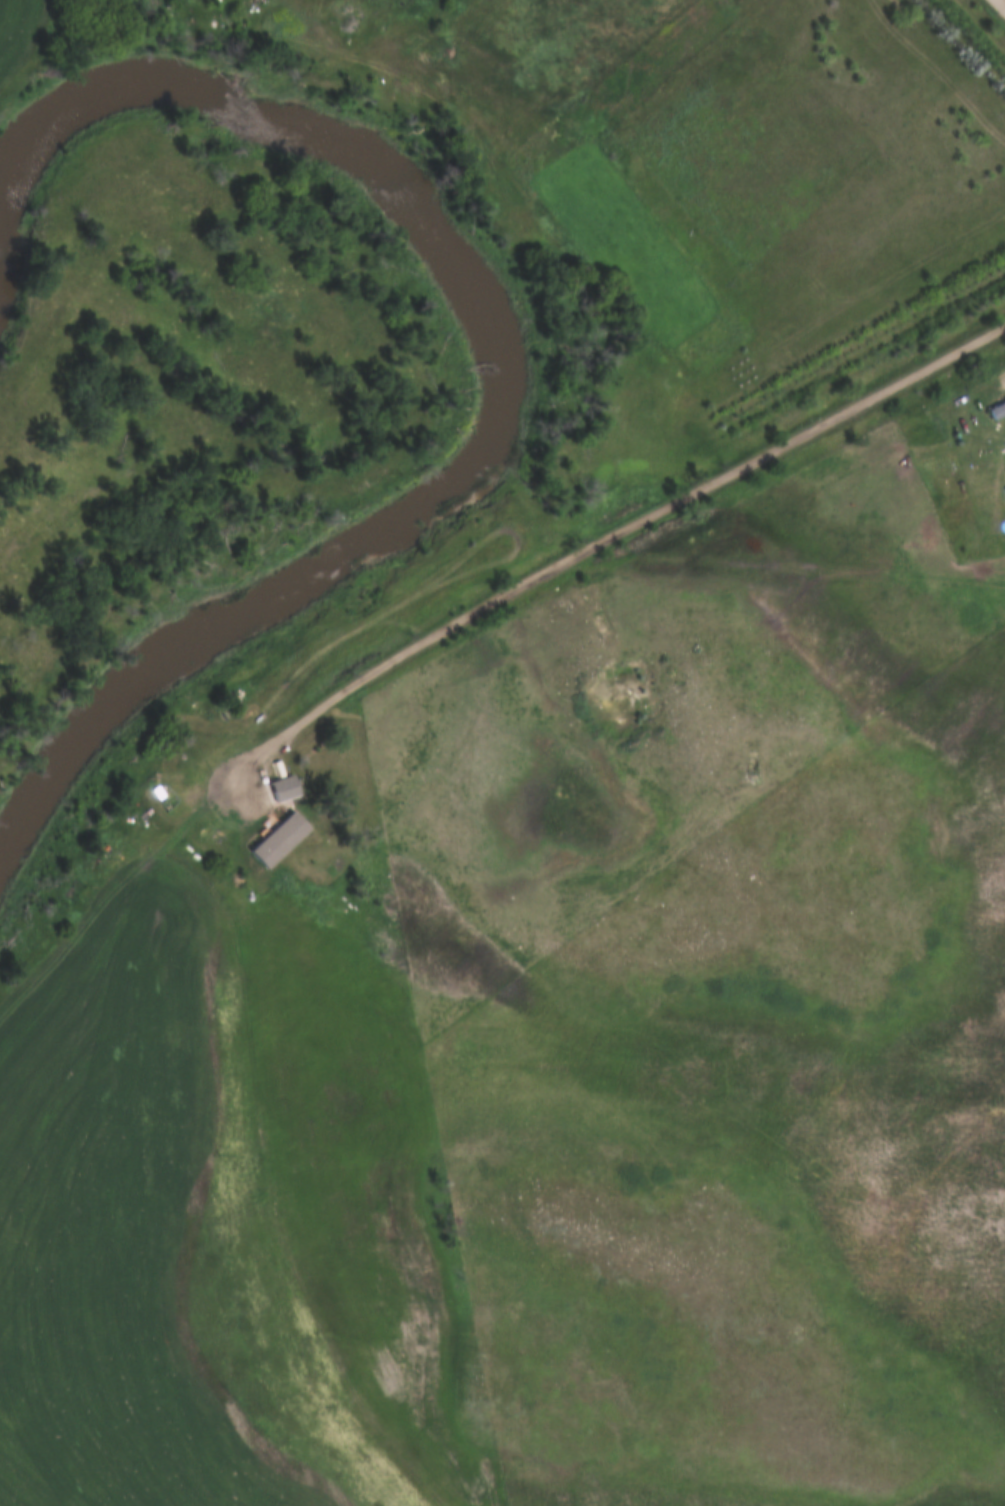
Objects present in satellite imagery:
road: (1003, 1)
river: (501, 356)
road: (597, 541)
building: (283, 789)
building: (304, 829)
road: (111, 903)

